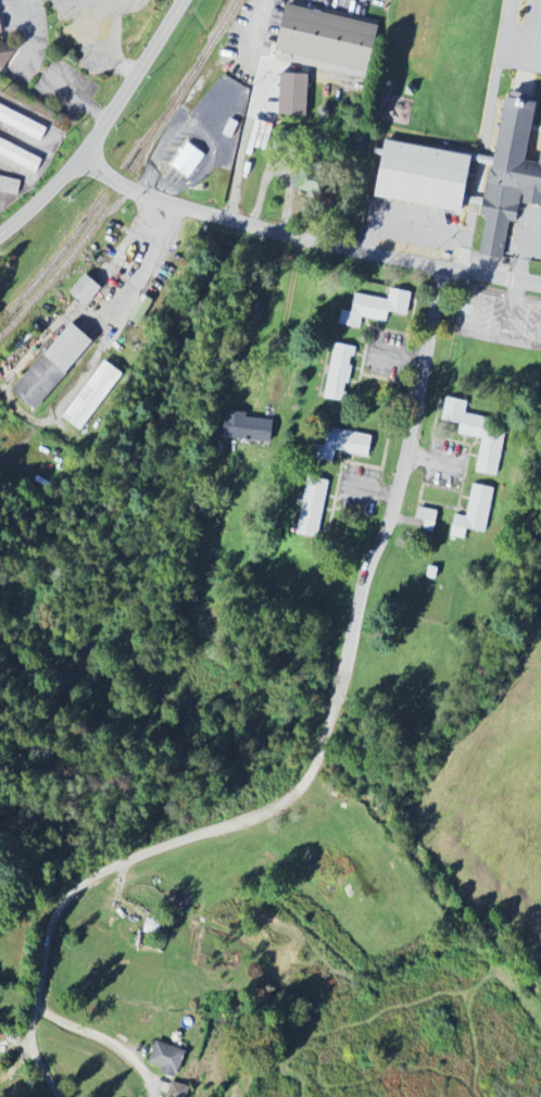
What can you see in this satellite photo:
building: (1, 27)
road: (509, 35)
building: (84, 36)
building: (328, 38)
building: (5, 55)
building: (295, 95)
building: (22, 124)
road: (102, 125)
building: (20, 157)
building: (188, 161)
railway: (127, 169)
building: (512, 176)
building: (427, 177)
building: (311, 183)
building: (10, 186)
road: (304, 236)
road: (527, 245)
building: (87, 290)
building: (375, 309)
building: (142, 310)
building: (54, 366)
building: (339, 373)
building: (92, 396)
building: (250, 428)
building: (477, 435)
building: (343, 445)
building: (313, 508)
building: (475, 513)
building: (429, 520)
road: (317, 760)
building: (168, 1059)
road: (14, 1062)
building: (178, 1090)

